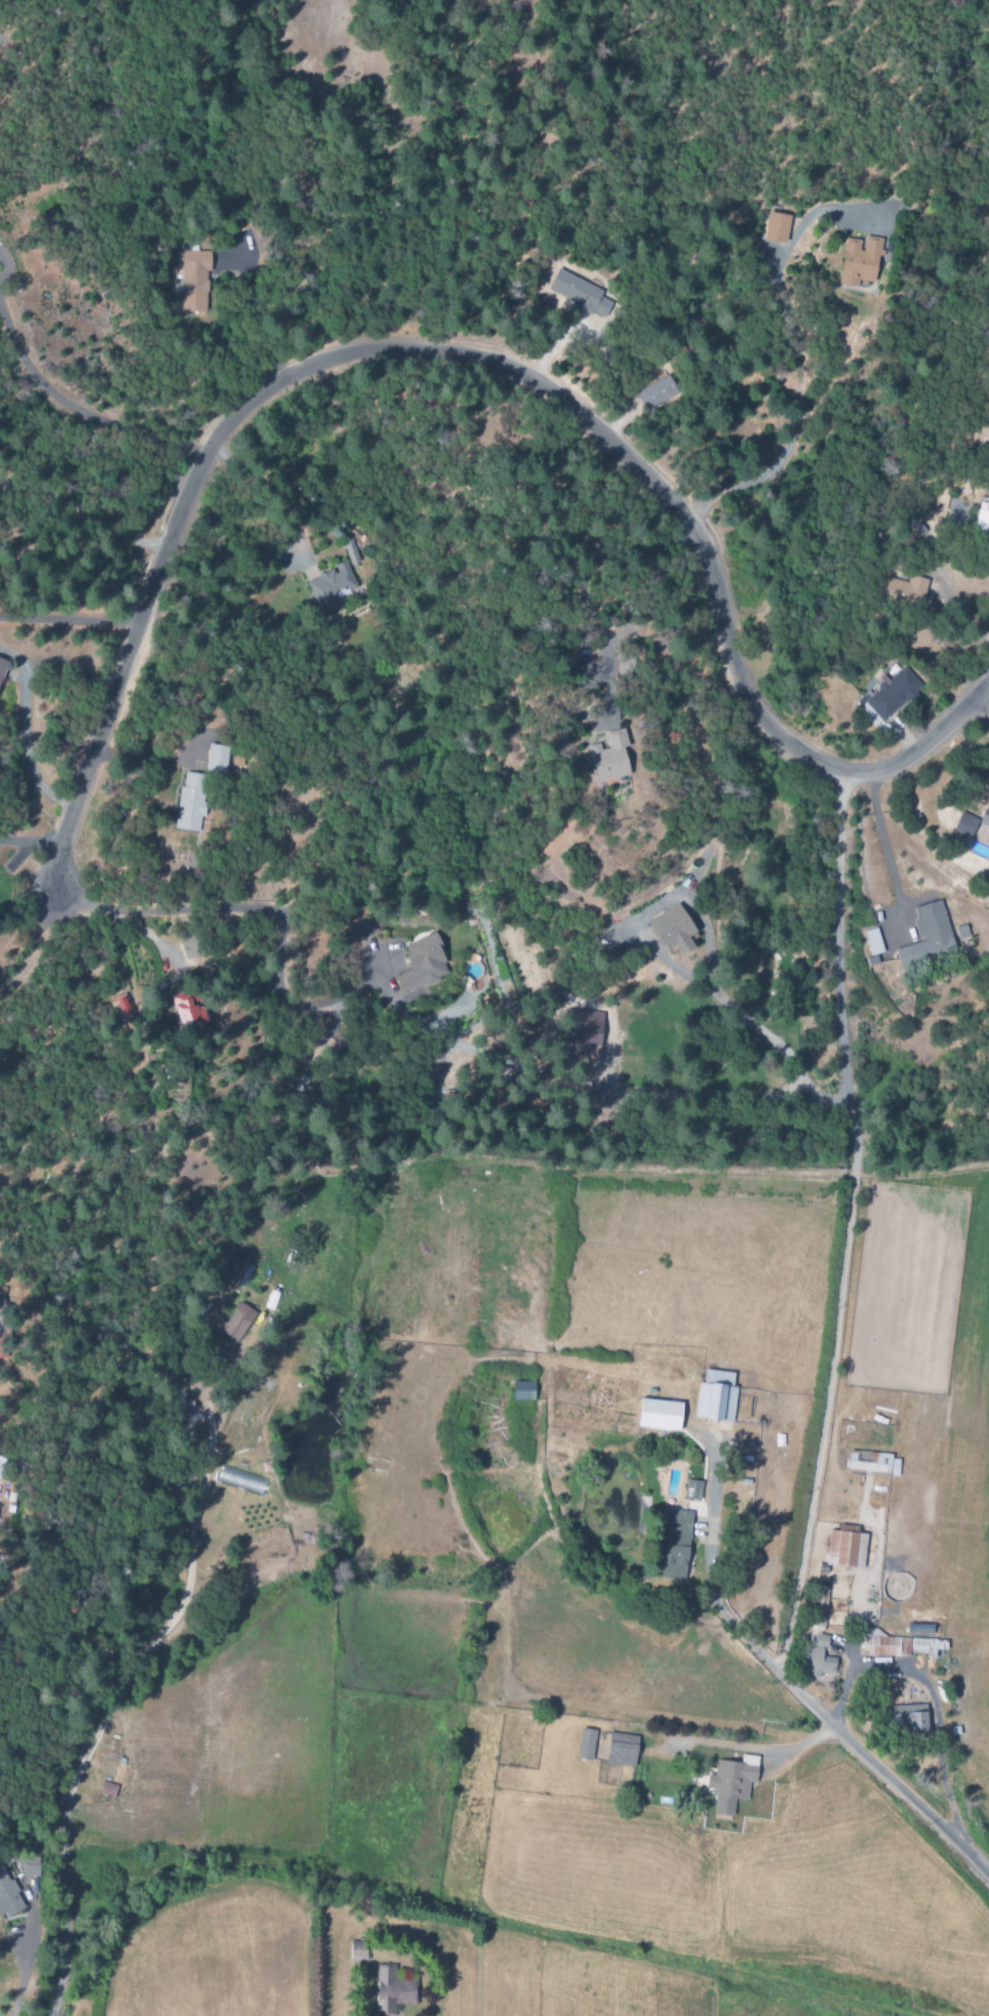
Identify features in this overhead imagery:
building: (776, 227)
building: (859, 260)
building: (194, 280)
building: (578, 293)
road: (388, 349)
building: (656, 393)
building: (988, 463)
building: (331, 586)
building: (905, 589)
road: (67, 620)
building: (2, 666)
building: (892, 694)
road: (985, 698)
building: (609, 757)
building: (216, 758)
building: (191, 802)
building: (971, 823)
road: (838, 855)
building: (673, 931)
building: (928, 934)
building: (873, 941)
building: (421, 967)
building: (123, 1006)
building: (186, 1014)
building: (582, 1033)
building: (245, 1273)
building: (237, 1322)
building: (2, 1347)
building: (522, 1391)
building: (716, 1398)
building: (659, 1415)
building: (869, 1462)
building: (0, 1470)
building: (692, 1490)
building: (675, 1545)
building: (846, 1549)
crop: (576, 1618)
building: (903, 1645)
building: (816, 1659)
building: (909, 1719)
building: (585, 1745)
road: (855, 1747)
building: (621, 1750)
building: (731, 1784)
building: (108, 1790)
building: (8, 1894)
building: (358, 1950)
road: (18, 1976)
building: (392, 1990)

